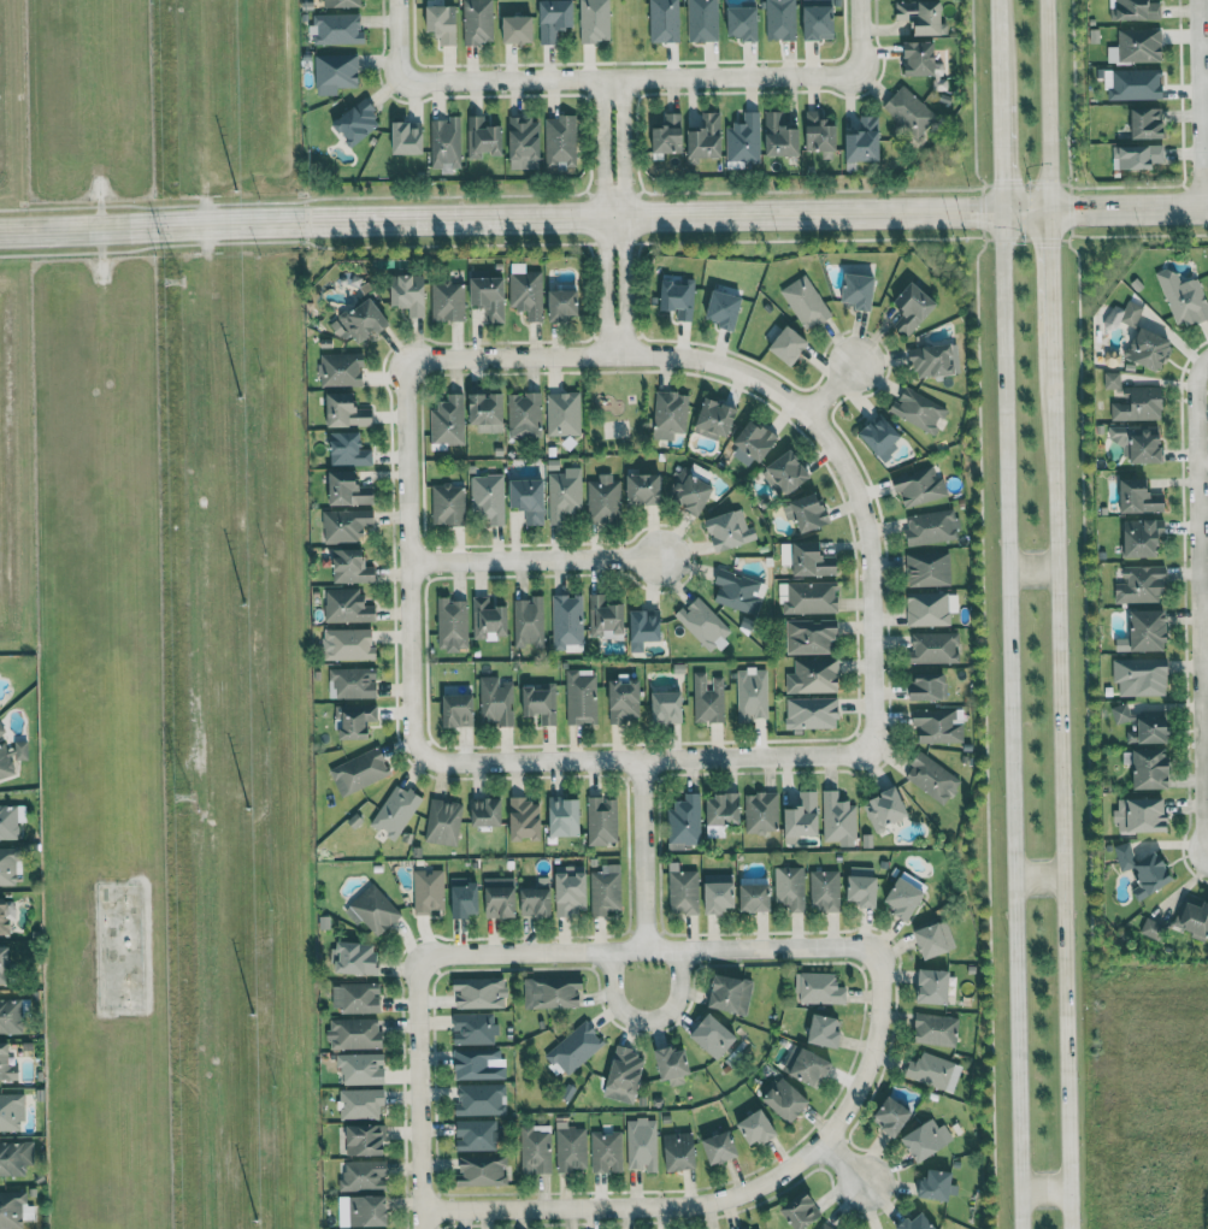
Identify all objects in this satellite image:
building: (342, 4)
building: (1137, 10)
building: (921, 16)
building: (554, 19)
building: (779, 19)
building: (819, 19)
building: (594, 20)
building: (664, 20)
building: (702, 20)
building: (477, 22)
building: (743, 23)
building: (443, 24)
building: (517, 29)
road: (859, 34)
road: (399, 39)
building: (1136, 46)
road: (997, 53)
building: (920, 58)
building: (335, 73)
road: (631, 76)
building: (1135, 84)
road: (1198, 105)
road: (1044, 106)
building: (909, 113)
building: (358, 123)
building: (1148, 124)
building: (820, 134)
building: (670, 135)
building: (780, 136)
building: (707, 137)
building: (407, 138)
building: (483, 138)
building: (744, 141)
building: (865, 141)
building: (444, 143)
building: (524, 143)
building: (560, 143)
building: (1137, 156)
road: (1001, 159)
road: (624, 215)
road: (605, 217)
road: (603, 218)
road: (1048, 270)
power tower: (173, 278)
building: (860, 291)
building: (409, 294)
building: (526, 295)
building: (489, 297)
building: (677, 299)
building: (1183, 299)
building: (447, 301)
building: (805, 302)
building: (564, 306)
building: (725, 309)
building: (913, 309)
building: (1124, 315)
building: (360, 323)
building: (789, 345)
building: (1150, 349)
building: (932, 361)
building: (341, 371)
building: (1112, 380)
road: (831, 388)
road: (783, 392)
building: (1139, 404)
park: (615, 408)
building: (918, 410)
building: (347, 412)
building: (487, 413)
building: (562, 414)
building: (524, 415)
building: (670, 415)
building: (447, 421)
building: (880, 437)
building: (755, 441)
building: (1139, 443)
building: (348, 450)
building: (789, 473)
building: (918, 485)
building: (349, 490)
building: (644, 490)
building: (564, 495)
building: (488, 497)
building: (1139, 497)
building: (529, 500)
building: (603, 501)
building: (447, 504)
building: (809, 513)
building: (347, 525)
building: (931, 527)
building: (730, 531)
building: (1142, 539)
road: (408, 559)
road: (535, 560)
building: (813, 561)
building: (350, 567)
building: (927, 569)
road: (1032, 569)
building: (1142, 585)
building: (738, 592)
road: (1198, 597)
building: (346, 607)
building: (930, 609)
building: (606, 619)
building: (488, 620)
road: (1203, 620)
building: (528, 622)
building: (566, 624)
building: (702, 624)
building: (452, 625)
building: (644, 628)
building: (1149, 632)
building: (809, 636)
building: (347, 644)
building: (932, 648)
road: (1204, 667)
building: (813, 676)
building: (1141, 676)
building: (352, 683)
building: (926, 685)
building: (750, 695)
building: (579, 697)
building: (707, 699)
building: (495, 702)
building: (623, 702)
building: (540, 703)
building: (667, 708)
building: (459, 711)
building: (811, 713)
building: (355, 720)
road: (1010, 720)
building: (1144, 725)
building: (938, 726)
building: (11, 756)
road: (644, 758)
building: (1151, 769)
building: (359, 772)
building: (931, 778)
road: (1060, 779)
power tower: (183, 788)
building: (395, 810)
building: (724, 810)
building: (884, 810)
building: (485, 811)
building: (761, 813)
building: (564, 815)
building: (1141, 815)
building: (803, 816)
building: (525, 819)
building: (838, 819)
building: (442, 821)
building: (601, 821)
building: (8, 822)
building: (683, 823)
road: (646, 853)
building: (7, 865)
building: (1145, 869)
road: (1038, 875)
building: (862, 886)
building: (790, 887)
building: (605, 890)
building: (682, 890)
building: (824, 890)
building: (428, 891)
building: (570, 891)
building: (719, 892)
building: (465, 897)
building: (499, 897)
building: (755, 897)
building: (904, 898)
building: (535, 903)
building: (372, 910)
building: (4, 916)
building: (1194, 917)
building: (933, 939)
road: (646, 949)
building: (356, 958)
building: (5, 964)
building: (935, 986)
building: (818, 987)
building: (479, 992)
building: (552, 992)
building: (731, 993)
building: (355, 998)
building: (10, 1016)
road: (648, 1020)
building: (472, 1028)
building: (936, 1029)
building: (825, 1030)
building: (354, 1033)
building: (713, 1035)
building: (574, 1047)
building: (6, 1064)
building: (476, 1064)
building: (672, 1064)
building: (811, 1066)
building: (361, 1068)
building: (933, 1071)
building: (624, 1074)
road: (418, 1094)
building: (479, 1099)
building: (786, 1099)
building: (360, 1104)
building: (12, 1111)
building: (892, 1116)
building: (756, 1128)
building: (477, 1135)
building: (365, 1139)
building: (926, 1139)
building: (641, 1144)
building: (570, 1147)
building: (720, 1147)
building: (535, 1150)
building: (679, 1151)
building: (606, 1152)
building: (16, 1157)
road: (843, 1165)
building: (481, 1170)
building: (364, 1175)
building: (936, 1184)
road: (1045, 1190)
road: (736, 1194)
building: (11, 1210)
building: (369, 1211)
building: (801, 1211)
building: (918, 1223)
building: (824, 1227)
building: (755, 1228)

